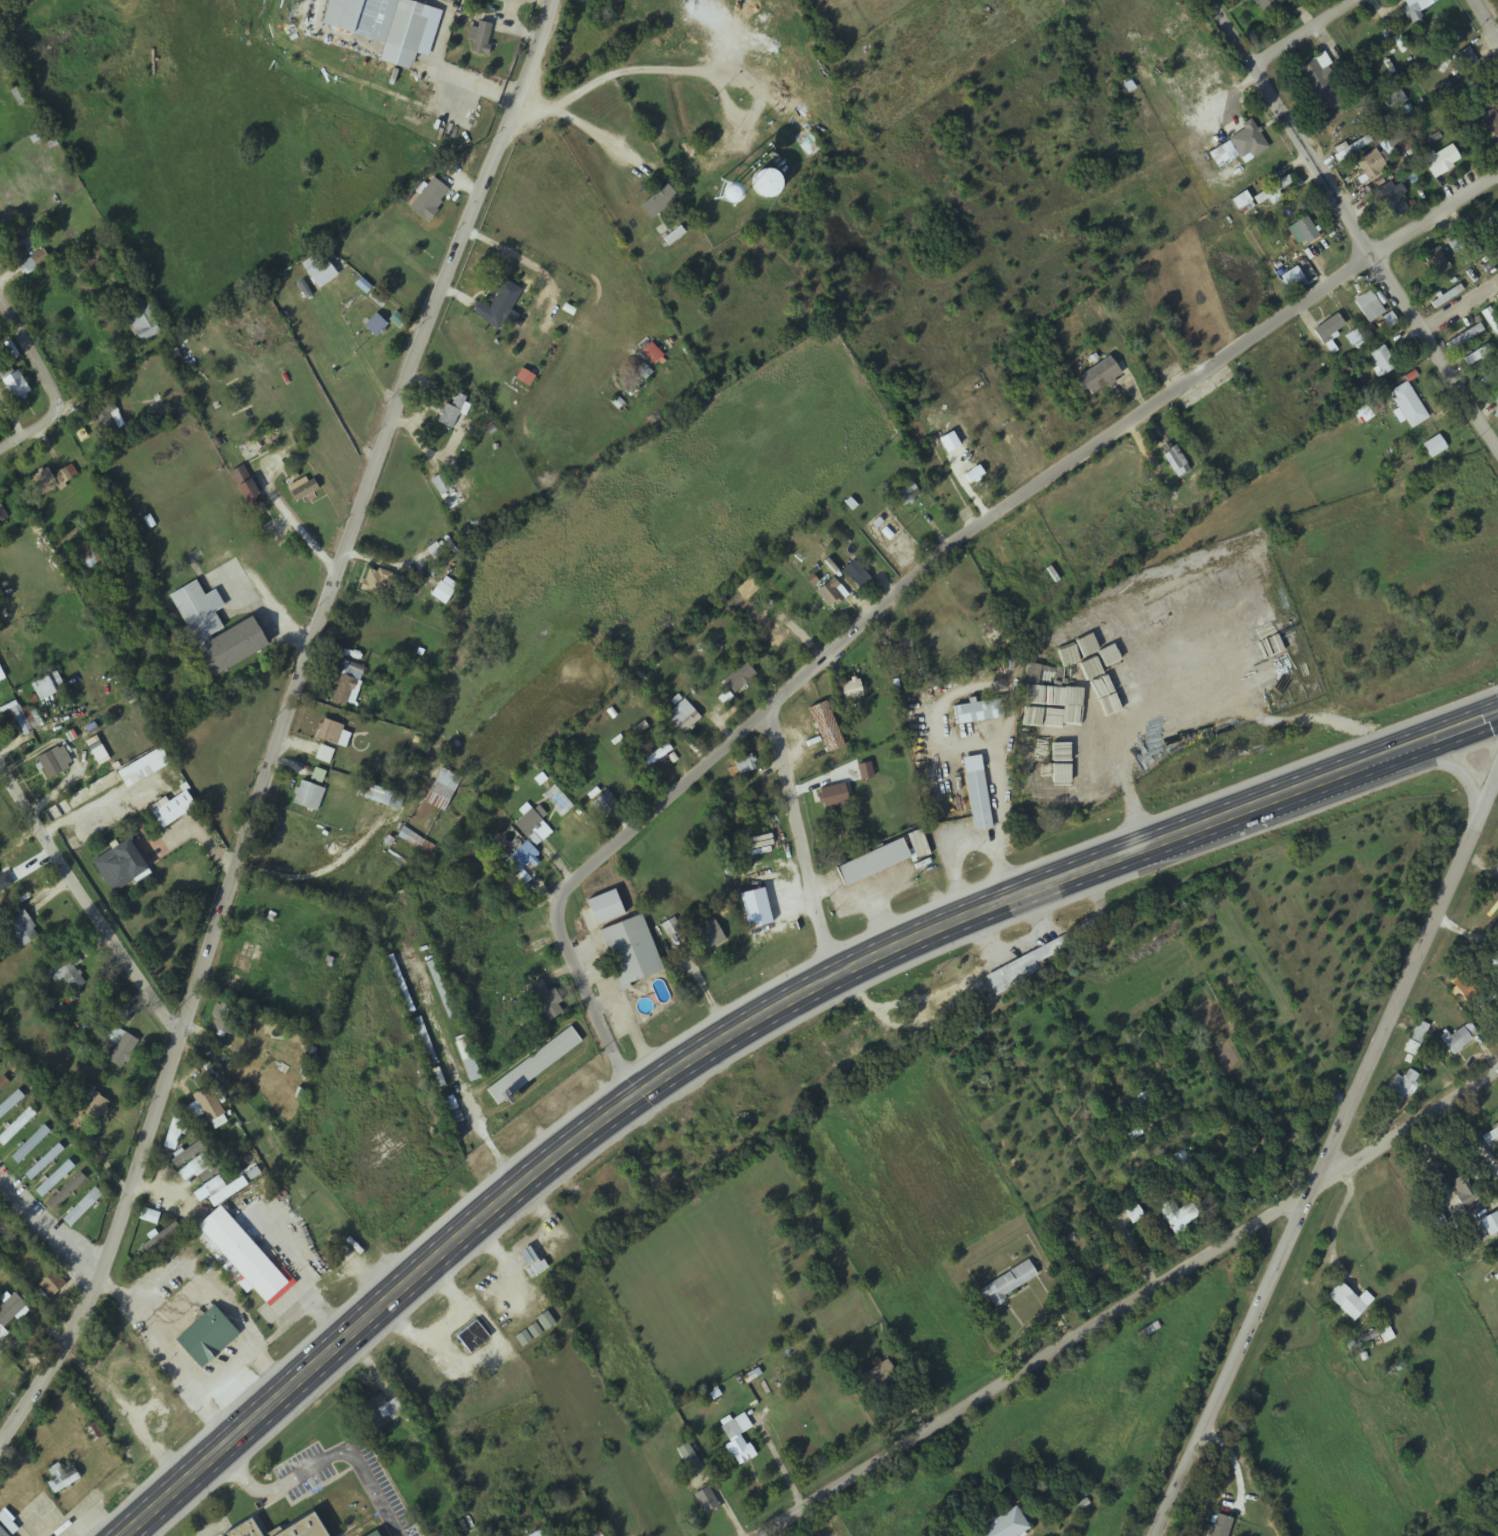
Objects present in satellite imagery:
building: (502, 0)
building: (1496, 2)
building: (1264, 5)
building: (1414, 7)
road: (1487, 17)
building: (385, 25)
road: (1306, 31)
building: (482, 38)
building: (1465, 58)
building: (1318, 85)
building: (22, 96)
building: (1489, 124)
building: (1348, 149)
building: (1440, 160)
building: (1369, 164)
building: (760, 182)
building: (1271, 190)
building: (1392, 199)
building: (432, 200)
building: (656, 200)
building: (1242, 203)
road: (1353, 220)
building: (1302, 231)
building: (408, 241)
building: (22, 248)
building: (1496, 249)
building: (1435, 261)
building: (322, 269)
building: (1291, 277)
building: (1446, 296)
building: (1497, 297)
building: (503, 305)
road: (1463, 305)
building: (1367, 306)
building: (1491, 319)
building: (147, 323)
building: (377, 326)
building: (1327, 328)
building: (1463, 337)
building: (1352, 338)
building: (1478, 355)
building: (176, 358)
building: (1381, 360)
building: (1098, 377)
building: (1488, 378)
road: (52, 379)
building: (18, 385)
building: (1407, 405)
building: (454, 410)
building: (1496, 413)
building: (109, 421)
building: (1433, 446)
road: (980, 458)
building: (1175, 461)
building: (56, 480)
building: (443, 484)
building: (306, 489)
building: (907, 494)
building: (1, 515)
building: (88, 557)
building: (856, 575)
road: (921, 576)
building: (1220, 579)
building: (378, 582)
building: (828, 592)
building: (443, 594)
building: (1071, 628)
building: (219, 630)
building: (899, 644)
building: (780, 646)
building: (1058, 650)
building: (1032, 674)
building: (2, 675)
building: (738, 678)
building: (346, 681)
building: (850, 690)
building: (977, 712)
building: (683, 716)
road: (285, 723)
building: (825, 726)
building: (331, 732)
building: (325, 755)
building: (654, 758)
building: (745, 764)
building: (51, 766)
building: (145, 769)
road: (1365, 790)
building: (443, 791)
building: (309, 796)
building: (384, 797)
building: (829, 797)
building: (977, 800)
building: (606, 804)
building: (174, 810)
building: (534, 826)
building: (578, 828)
building: (413, 840)
road: (803, 843)
building: (917, 843)
building: (752, 851)
building: (522, 858)
building: (870, 862)
building: (123, 867)
road: (89, 902)
building: (608, 908)
building: (21, 930)
building: (711, 936)
building: (632, 952)
building: (70, 978)
building: (1474, 982)
building: (546, 1001)
road: (752, 1021)
building: (225, 1022)
building: (1460, 1037)
building: (1416, 1039)
building: (124, 1052)
building: (0, 1065)
building: (536, 1067)
building: (4, 1084)
building: (1397, 1093)
building: (91, 1101)
building: (11, 1104)
building: (207, 1106)
building: (17, 1127)
building: (177, 1129)
building: (1491, 1139)
building: (32, 1145)
road: (1325, 1158)
building: (1182, 1161)
building: (45, 1163)
building: (204, 1169)
building: (56, 1179)
building: (215, 1186)
building: (68, 1192)
building: (1464, 1193)
building: (618, 1201)
building: (84, 1208)
building: (1134, 1215)
building: (1178, 1216)
building: (151, 1217)
building: (1467, 1234)
building: (161, 1239)
building: (247, 1258)
building: (534, 1264)
building: (1009, 1283)
building: (54, 1286)
road: (1128, 1301)
building: (1349, 1302)
building: (12, 1312)
building: (548, 1323)
building: (1378, 1335)
building: (210, 1338)
building: (475, 1338)
building: (878, 1374)
building: (382, 1412)
building: (739, 1441)
building: (687, 1454)
parking lot: (297, 1460)
road: (324, 1461)
building: (64, 1476)
parking lot: (379, 1477)
parking lot: (312, 1481)
parking lot: (312, 1482)
road: (287, 1497)
building: (707, 1502)
building: (1003, 1525)
building: (1221, 1526)
building: (305, 1528)
building: (244, 1529)
building: (3, 1532)
road: (408, 1532)
road: (356, 1534)
building: (373, 1534)
parking lot: (414, 1534)
building: (545, 1534)
building: (381, 1535)

